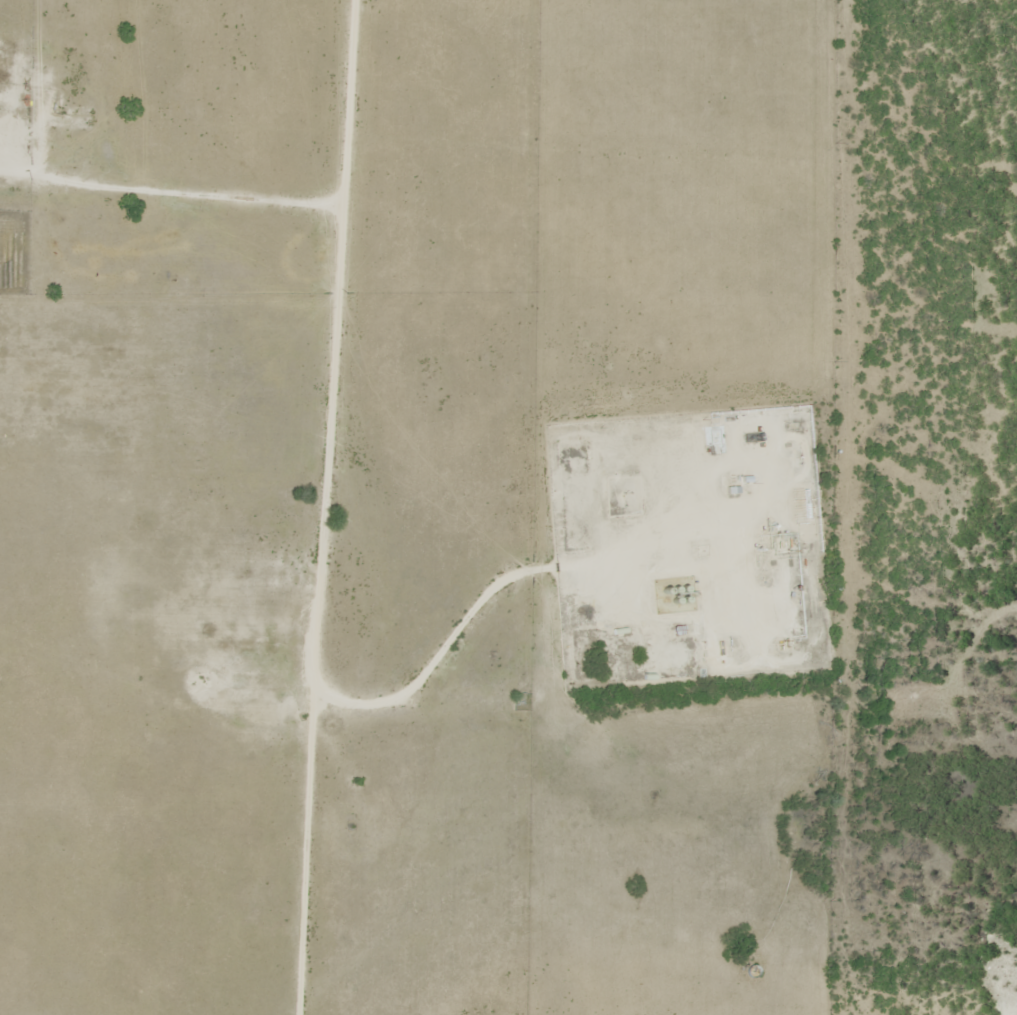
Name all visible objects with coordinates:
building: (715, 434)
road: (318, 509)

